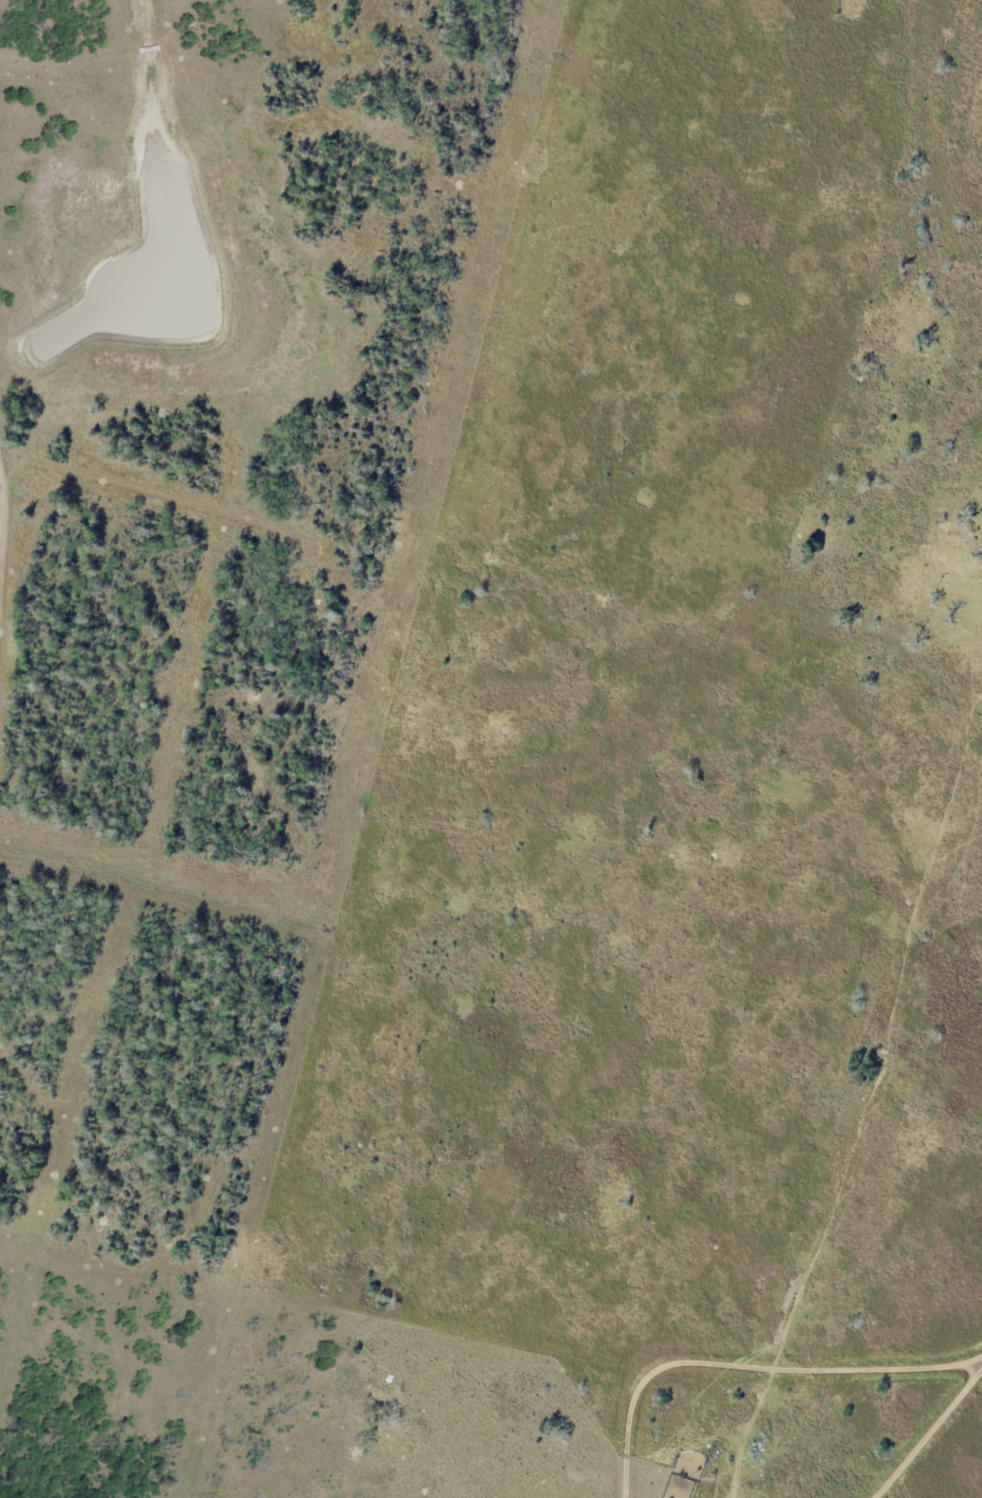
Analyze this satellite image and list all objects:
building: (148, 49)
building: (704, 1428)
road: (932, 1466)

